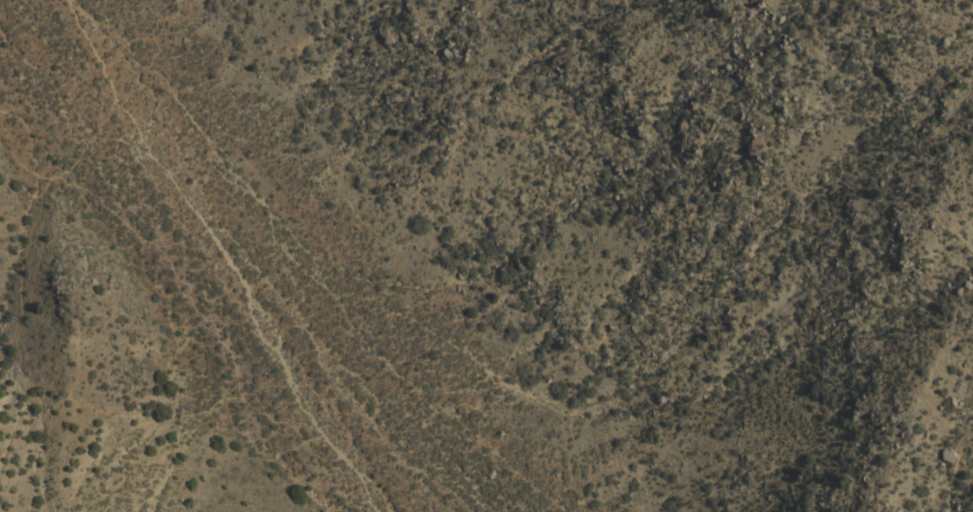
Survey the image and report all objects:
road: (164, 165)
road: (23, 294)
road: (310, 426)

